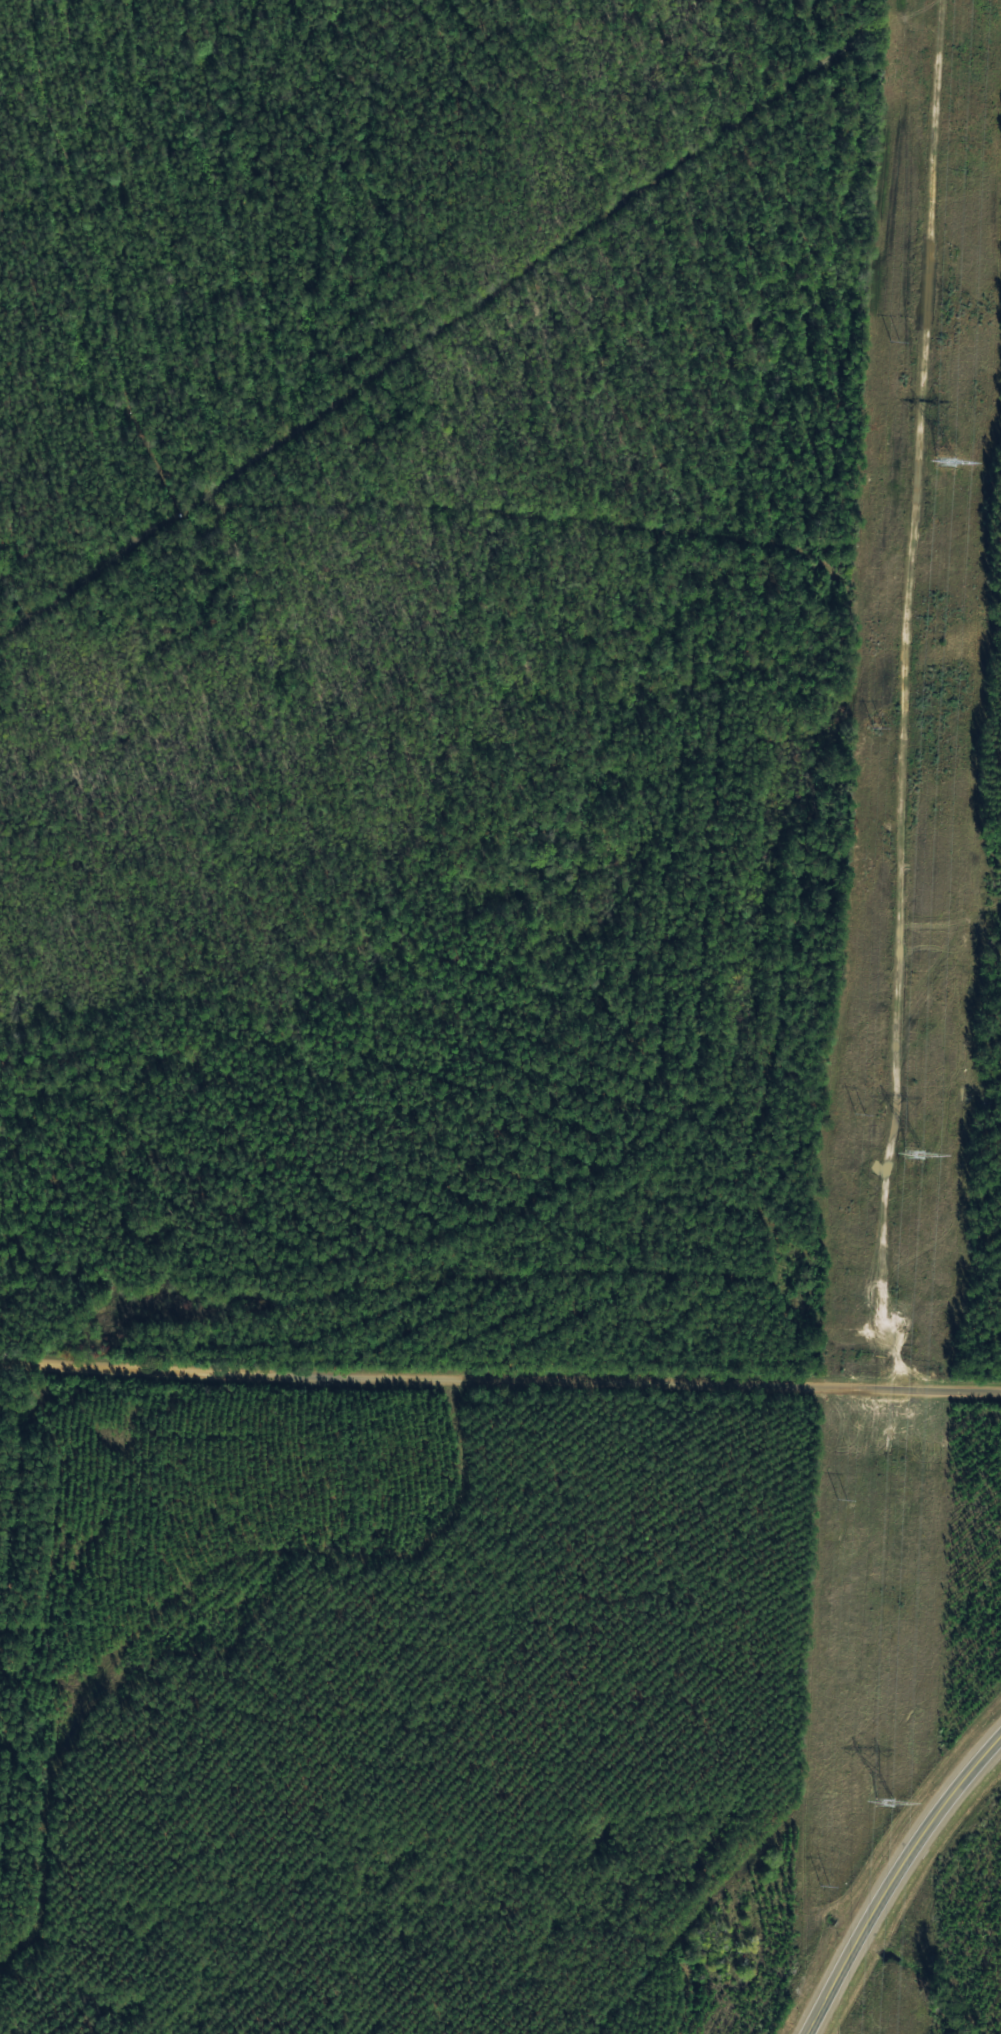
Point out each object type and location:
power tower: (941, 461)
power tower: (911, 1155)
road: (500, 1394)
power tower: (882, 1800)
road: (896, 1872)

